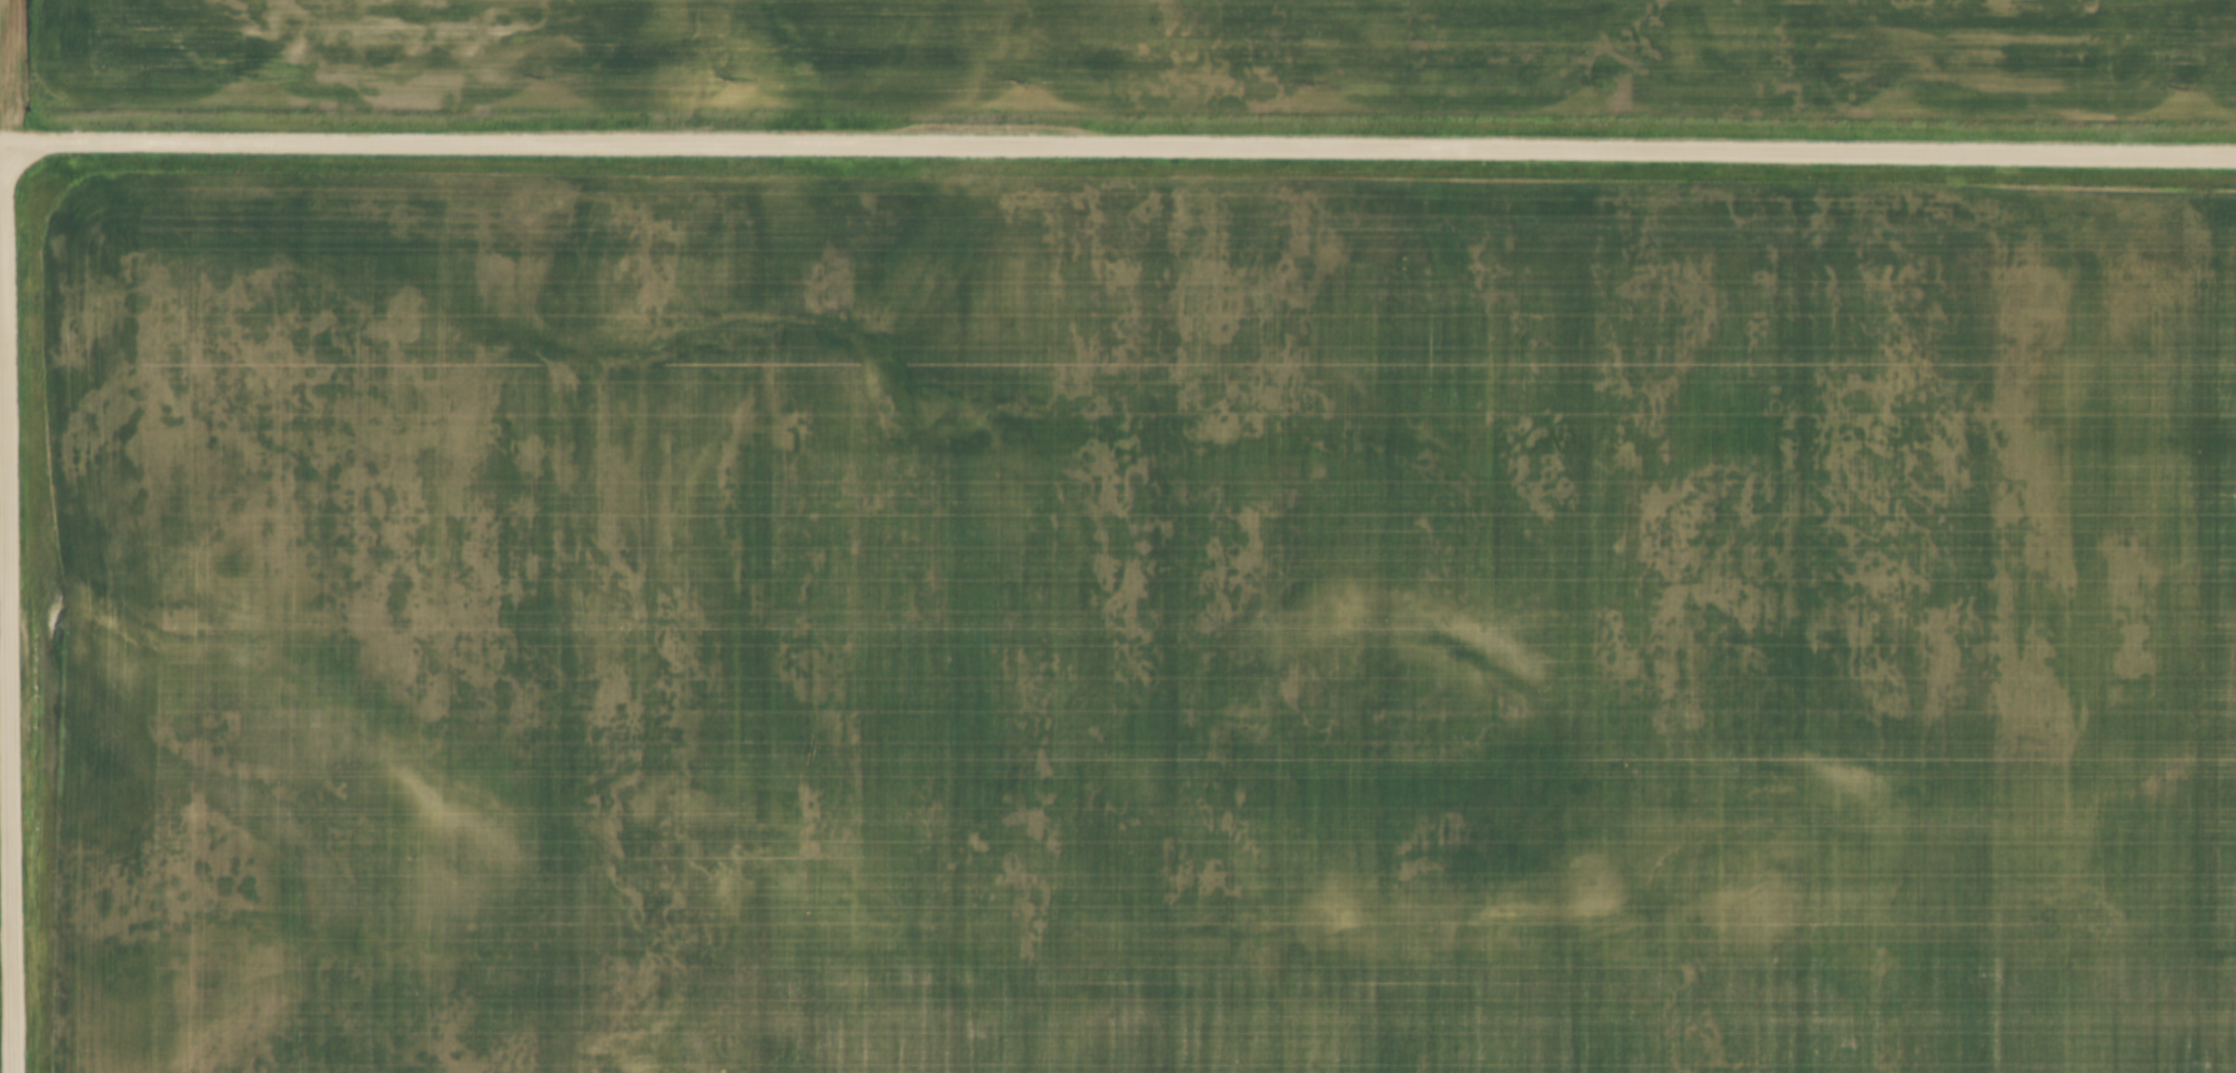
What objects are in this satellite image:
road: (1118, 153)
road: (4, 610)

